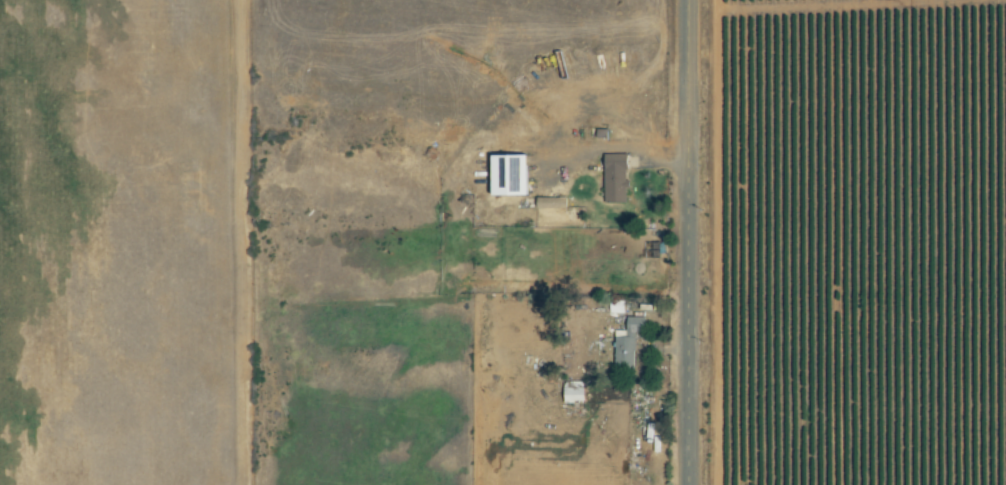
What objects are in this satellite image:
building: (617, 182)
building: (553, 203)
road: (689, 242)
crop: (861, 242)
building: (628, 343)
building: (575, 393)

